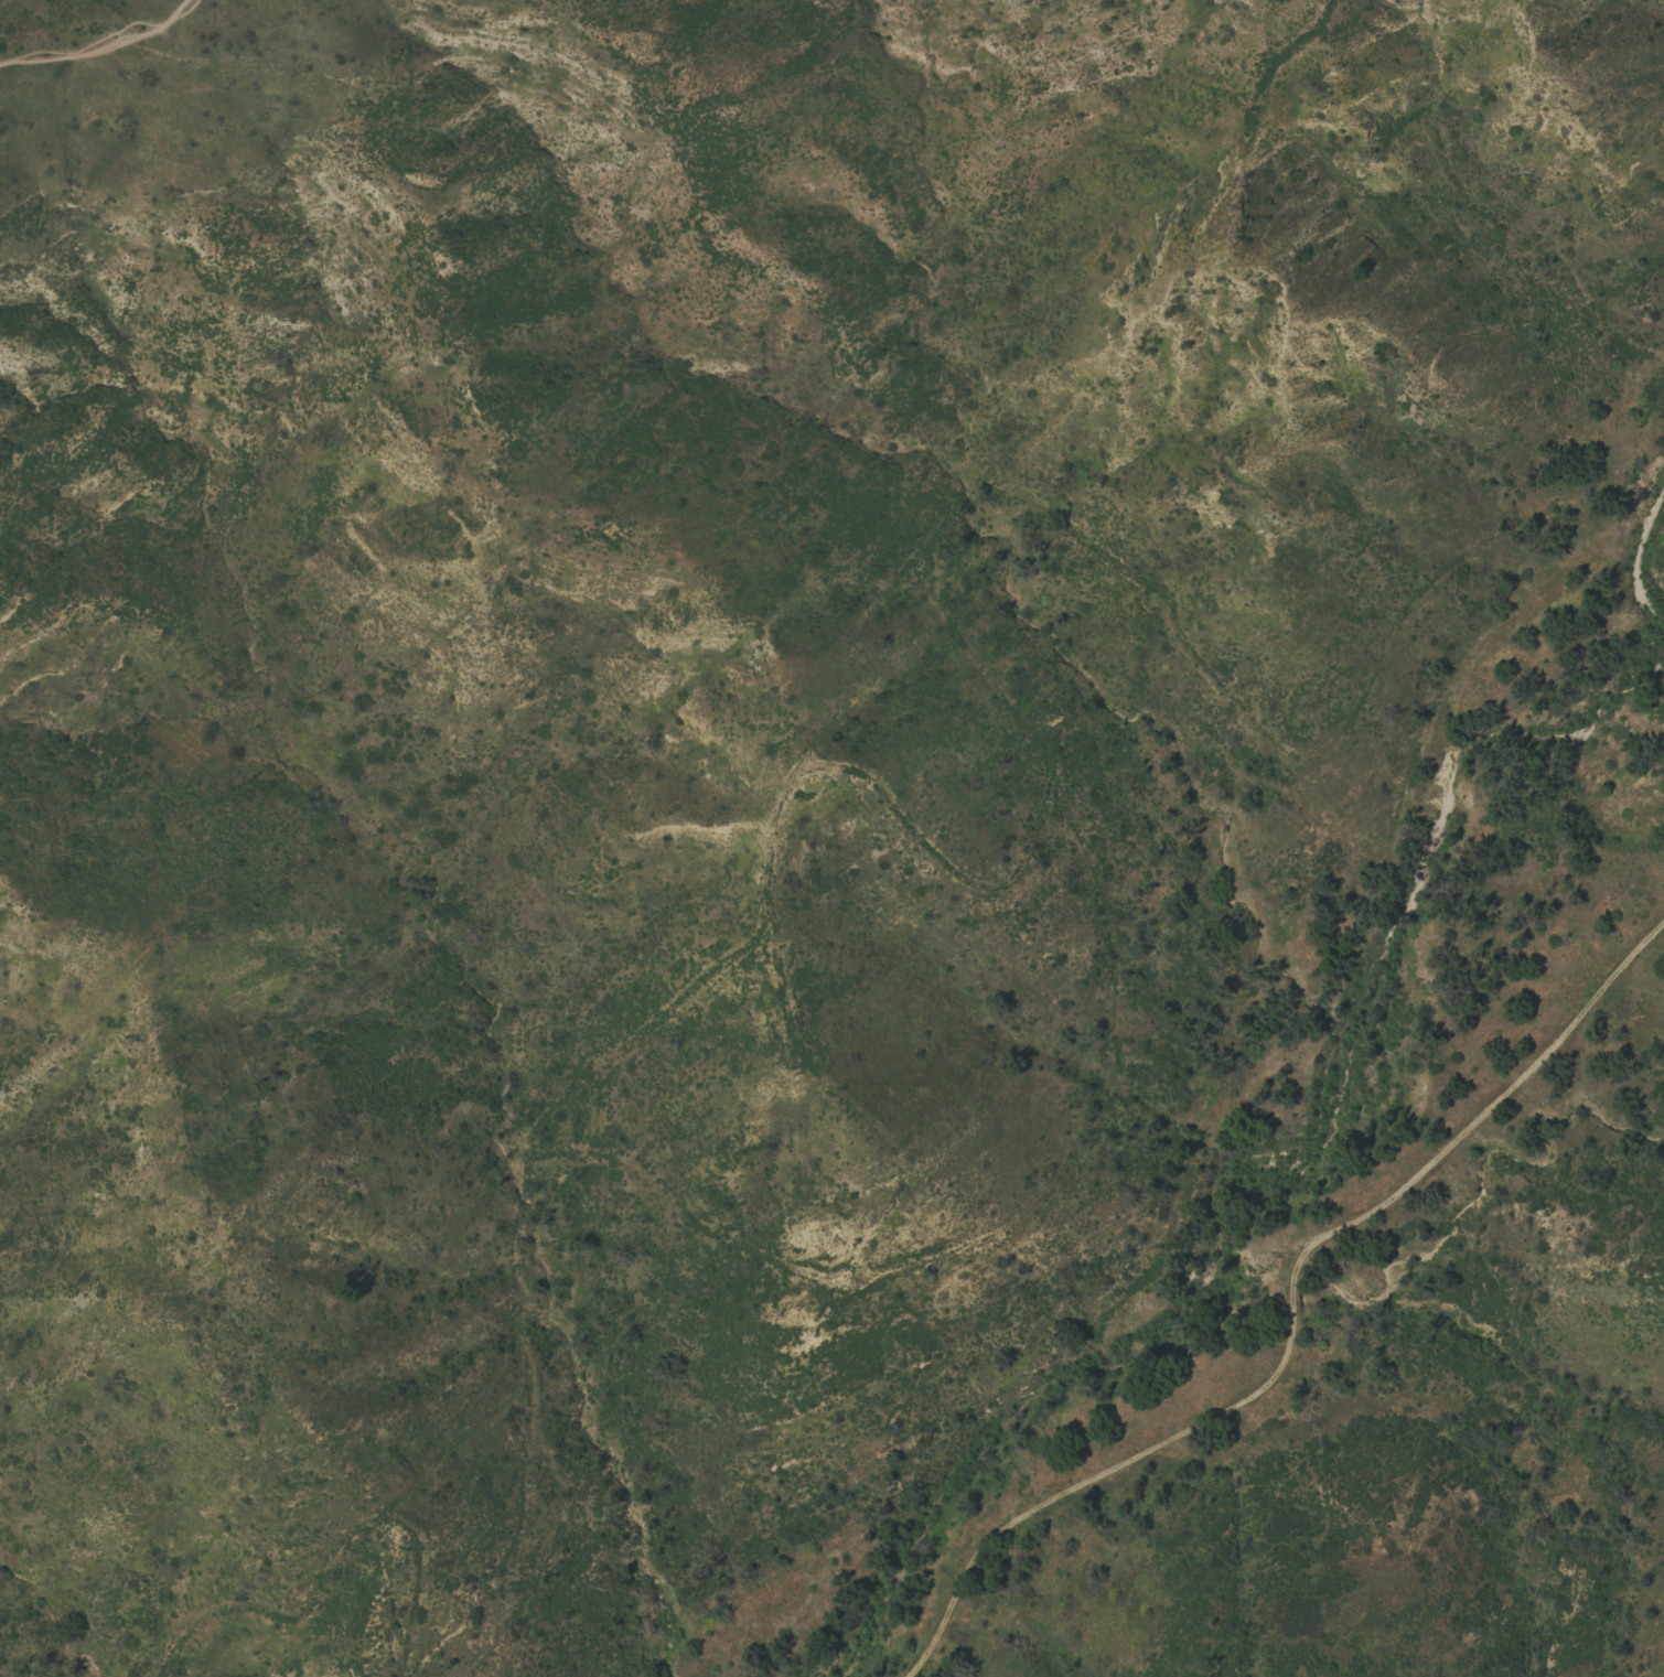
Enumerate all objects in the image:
road: (103, 53)
road: (1295, 1319)

